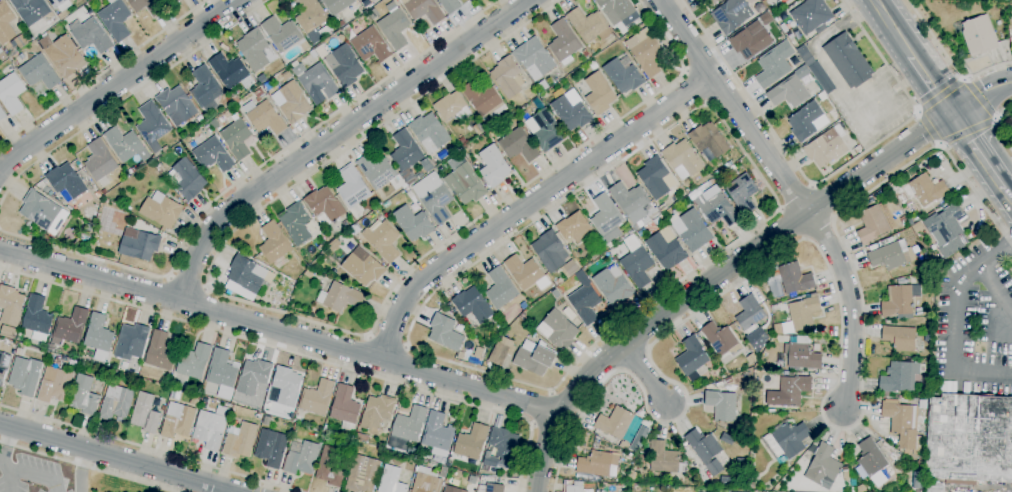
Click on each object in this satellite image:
building: (180, 0)
building: (699, 0)
building: (716, 0)
building: (719, 0)
building: (170, 1)
building: (783, 1)
building: (337, 5)
building: (148, 6)
building: (450, 6)
building: (61, 7)
building: (616, 9)
building: (424, 10)
building: (32, 11)
building: (735, 14)
building: (811, 16)
building: (115, 19)
building: (313, 20)
building: (5, 23)
building: (998, 23)
building: (341, 24)
building: (589, 25)
building: (394, 26)
road: (893, 26)
building: (90, 35)
building: (283, 35)
building: (979, 35)
building: (751, 41)
building: (563, 42)
building: (368, 44)
building: (256, 50)
building: (585, 53)
building: (648, 53)
building: (313, 54)
building: (65, 56)
building: (2, 57)
building: (534, 58)
building: (808, 59)
road: (950, 59)
building: (848, 61)
building: (341, 63)
building: (774, 64)
building: (593, 65)
building: (228, 70)
building: (39, 72)
road: (102, 72)
building: (623, 74)
building: (286, 75)
building: (508, 77)
building: (262, 79)
road: (837, 80)
building: (316, 82)
road: (932, 82)
road: (117, 84)
building: (543, 85)
road: (695, 87)
building: (205, 88)
building: (11, 93)
building: (259, 93)
building: (788, 93)
building: (599, 94)
road: (939, 94)
road: (130, 95)
road: (981, 95)
road: (978, 97)
building: (235, 99)
building: (484, 99)
building: (294, 102)
building: (177, 105)
road: (734, 106)
building: (452, 107)
traffic signals: (952, 112)
building: (571, 113)
building: (2, 114)
building: (524, 116)
building: (264, 117)
building: (806, 121)
building: (152, 123)
road: (995, 123)
road: (927, 126)
building: (544, 127)
building: (208, 128)
building: (478, 129)
road: (966, 131)
road: (335, 135)
building: (430, 135)
building: (237, 139)
building: (709, 139)
building: (125, 145)
building: (518, 145)
building: (826, 147)
building: (165, 149)
road: (978, 149)
building: (452, 150)
building: (214, 155)
building: (406, 155)
building: (682, 159)
building: (100, 162)
building: (493, 166)
building: (441, 168)
building: (132, 171)
building: (379, 173)
road: (247, 175)
road: (759, 175)
building: (654, 177)
road: (828, 178)
building: (186, 179)
building: (66, 180)
building: (465, 184)
building: (706, 185)
building: (46, 189)
building: (353, 190)
building: (922, 190)
building: (103, 192)
building: (742, 193)
road: (1008, 193)
building: (97, 195)
building: (66, 196)
building: (434, 197)
road: (795, 197)
road: (530, 203)
building: (633, 203)
building: (324, 206)
building: (128, 208)
building: (662, 208)
building: (717, 208)
building: (161, 210)
building: (673, 211)
building: (43, 212)
building: (607, 219)
building: (902, 221)
building: (910, 222)
building: (413, 223)
building: (875, 223)
building: (296, 224)
building: (345, 224)
building: (945, 225)
building: (574, 228)
building: (87, 229)
building: (691, 230)
building: (642, 232)
building: (383, 240)
building: (274, 243)
building: (139, 244)
building: (334, 245)
building: (666, 248)
building: (550, 251)
building: (593, 255)
building: (892, 257)
building: (637, 262)
building: (926, 265)
building: (363, 267)
building: (571, 268)
building: (526, 273)
building: (246, 274)
road: (714, 277)
building: (794, 278)
road: (187, 281)
building: (901, 281)
building: (559, 282)
building: (613, 285)
building: (500, 288)
road: (995, 289)
building: (340, 297)
building: (584, 299)
building: (898, 302)
building: (472, 305)
building: (11, 306)
road: (851, 308)
building: (803, 313)
building: (750, 315)
building: (37, 318)
road: (304, 319)
road: (954, 322)
road: (840, 325)
building: (499, 326)
building: (70, 327)
building: (557, 330)
road: (279, 331)
building: (8, 332)
building: (445, 333)
building: (98, 334)
building: (756, 338)
building: (900, 338)
building: (926, 338)
building: (721, 339)
road: (387, 340)
building: (131, 342)
building: (19, 351)
building: (160, 351)
building: (502, 351)
road: (299, 353)
building: (478, 353)
building: (801, 355)
building: (460, 356)
building: (534, 357)
building: (692, 359)
building: (194, 361)
building: (4, 366)
building: (222, 370)
road: (645, 373)
building: (254, 376)
building: (899, 377)
building: (23, 378)
building: (728, 380)
building: (54, 385)
building: (287, 385)
building: (789, 391)
building: (84, 395)
building: (317, 398)
building: (194, 400)
building: (205, 400)
building: (116, 402)
building: (922, 404)
building: (721, 405)
building: (345, 407)
road: (542, 408)
building: (377, 412)
building: (145, 413)
building: (177, 420)
building: (615, 422)
building: (901, 422)
building: (408, 426)
building: (211, 427)
building: (295, 427)
building: (327, 427)
building: (437, 436)
building: (361, 437)
building: (728, 439)
building: (240, 440)
building: (786, 440)
building: (968, 441)
building: (472, 443)
building: (503, 444)
road: (4, 448)
road: (148, 448)
building: (271, 448)
building: (413, 450)
building: (705, 450)
road: (117, 457)
building: (664, 458)
building: (302, 459)
building: (422, 462)
building: (872, 462)
building: (741, 464)
road: (87, 465)
building: (595, 465)
building: (823, 465)
building: (330, 467)
building: (485, 468)
building: (845, 470)
building: (443, 472)
road: (25, 474)
building: (363, 474)
parking lot: (31, 475)
building: (482, 479)
building: (391, 480)
building: (473, 480)
building: (727, 480)
building: (917, 480)
building: (425, 481)
road: (258, 483)
building: (853, 484)
building: (751, 485)
building: (494, 487)
building: (572, 488)
road: (256, 489)
building: (452, 489)
parking lot: (69, 491)

